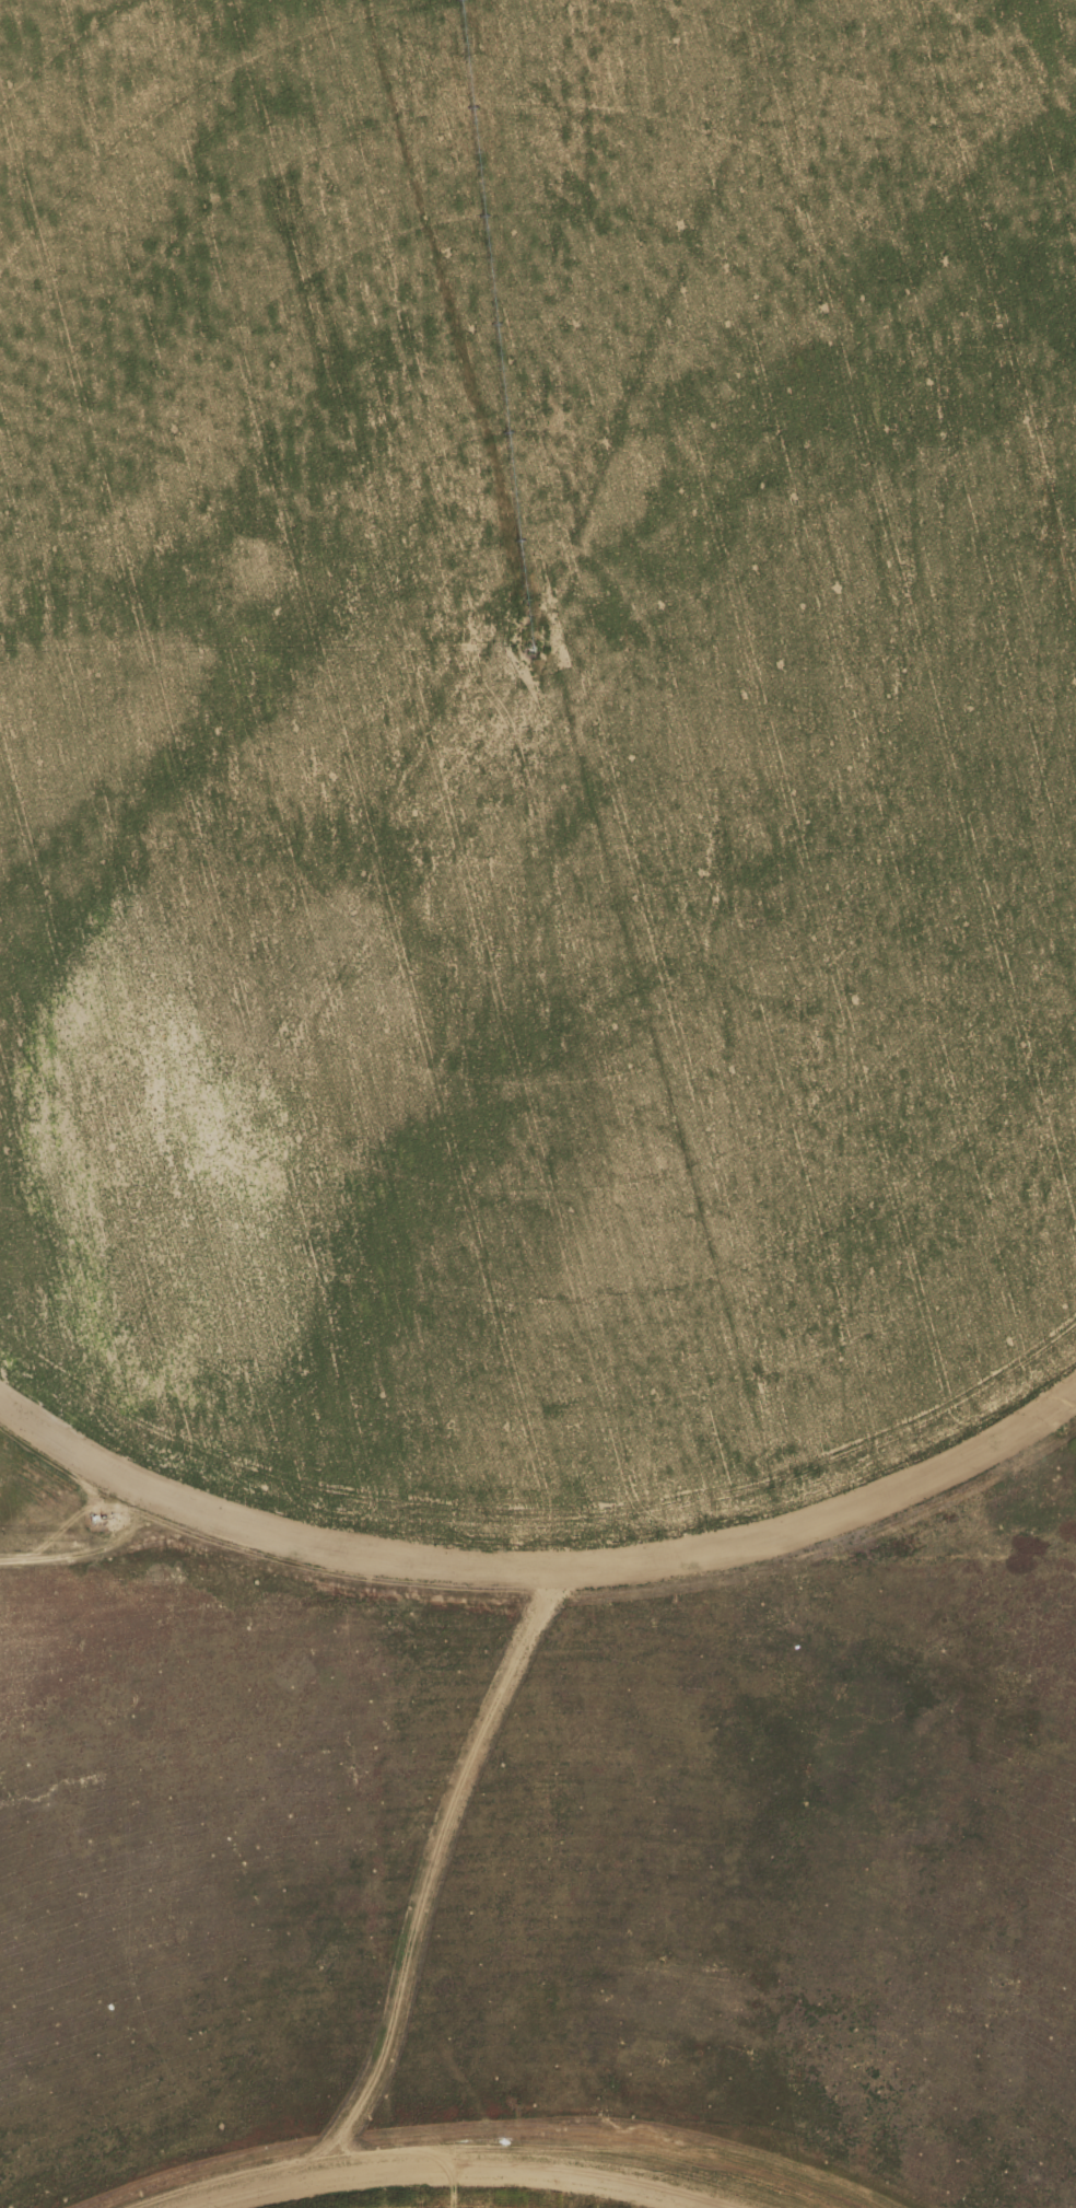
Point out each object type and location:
road: (538, 1492)

